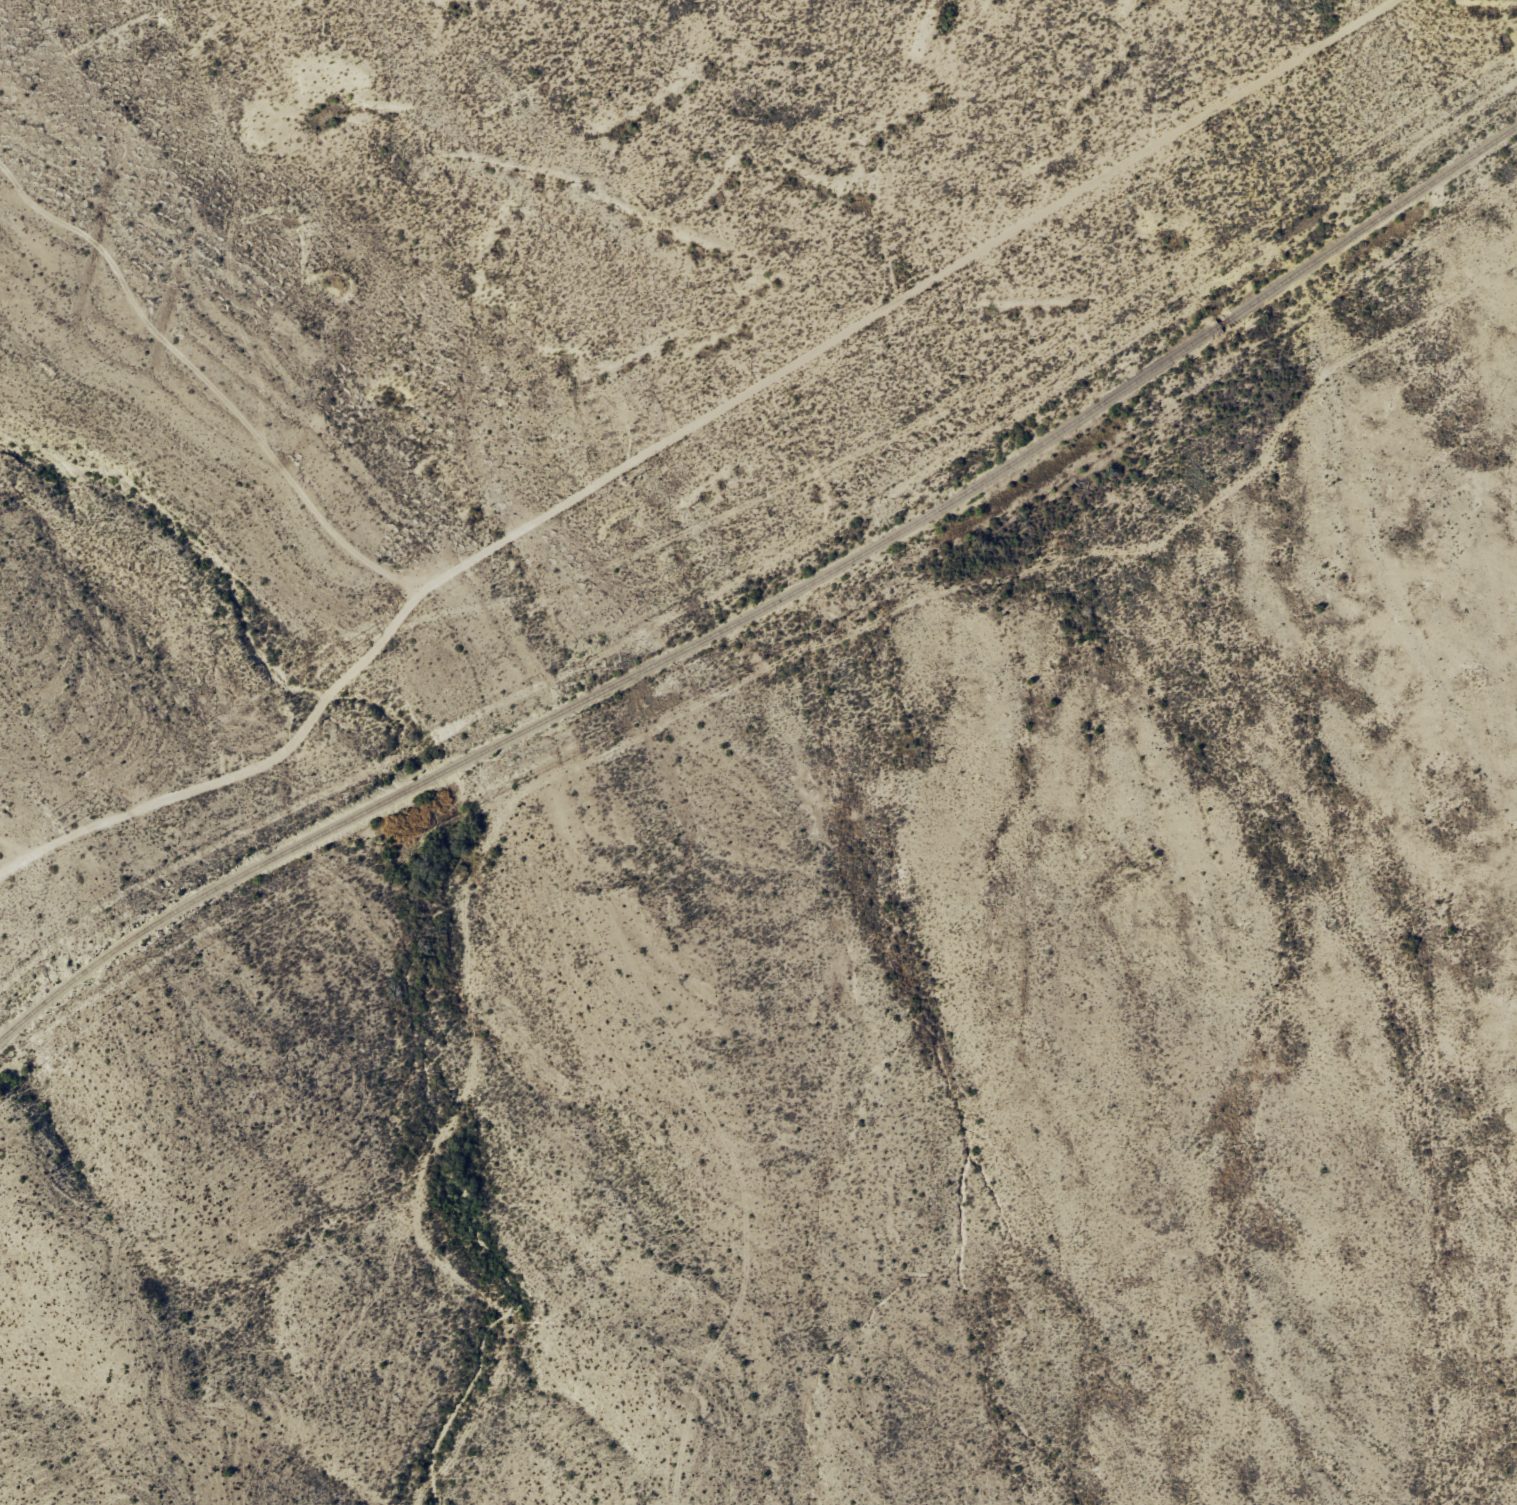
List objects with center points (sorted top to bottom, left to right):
power tower: (1185, 137)
power tower: (902, 309)
power tower: (621, 479)
road: (764, 499)
railway: (770, 604)
power tower: (339, 650)
road: (722, 737)
power tower: (54, 821)

